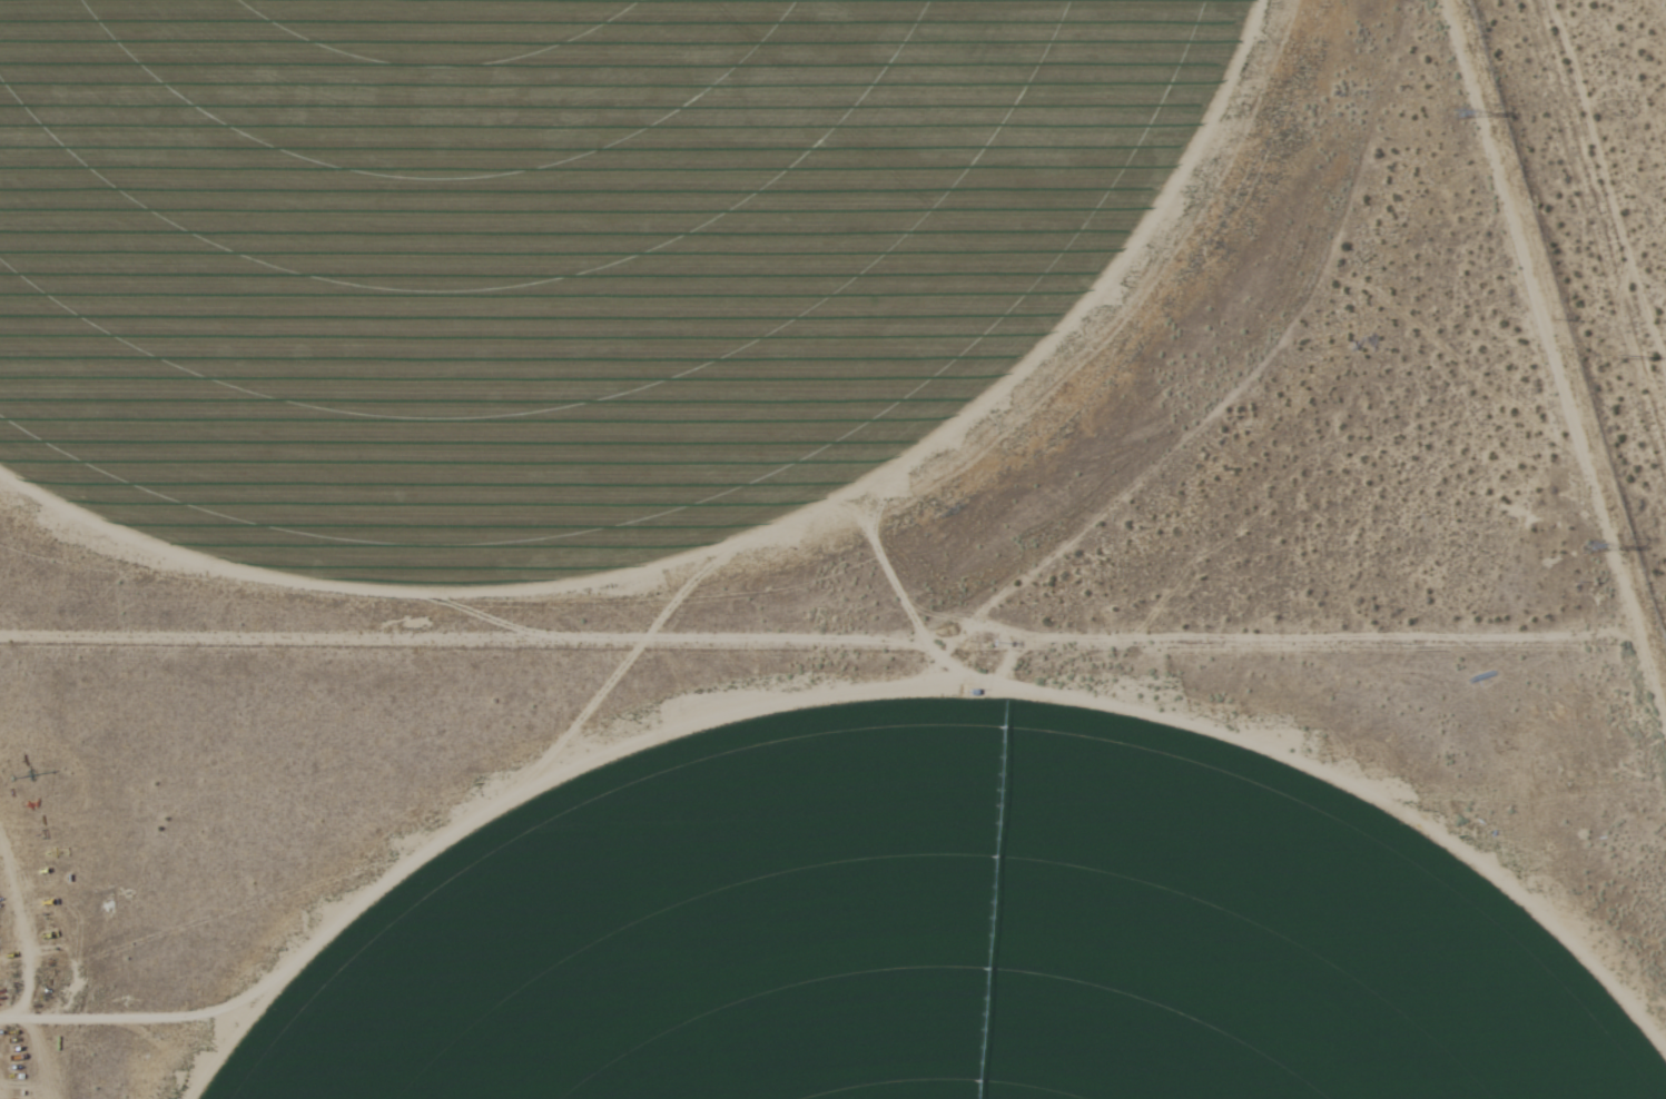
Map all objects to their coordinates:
power tower: (1461, 122)
crop: (538, 258)
power tower: (1623, 352)
power tower: (1588, 548)
crop: (923, 923)

